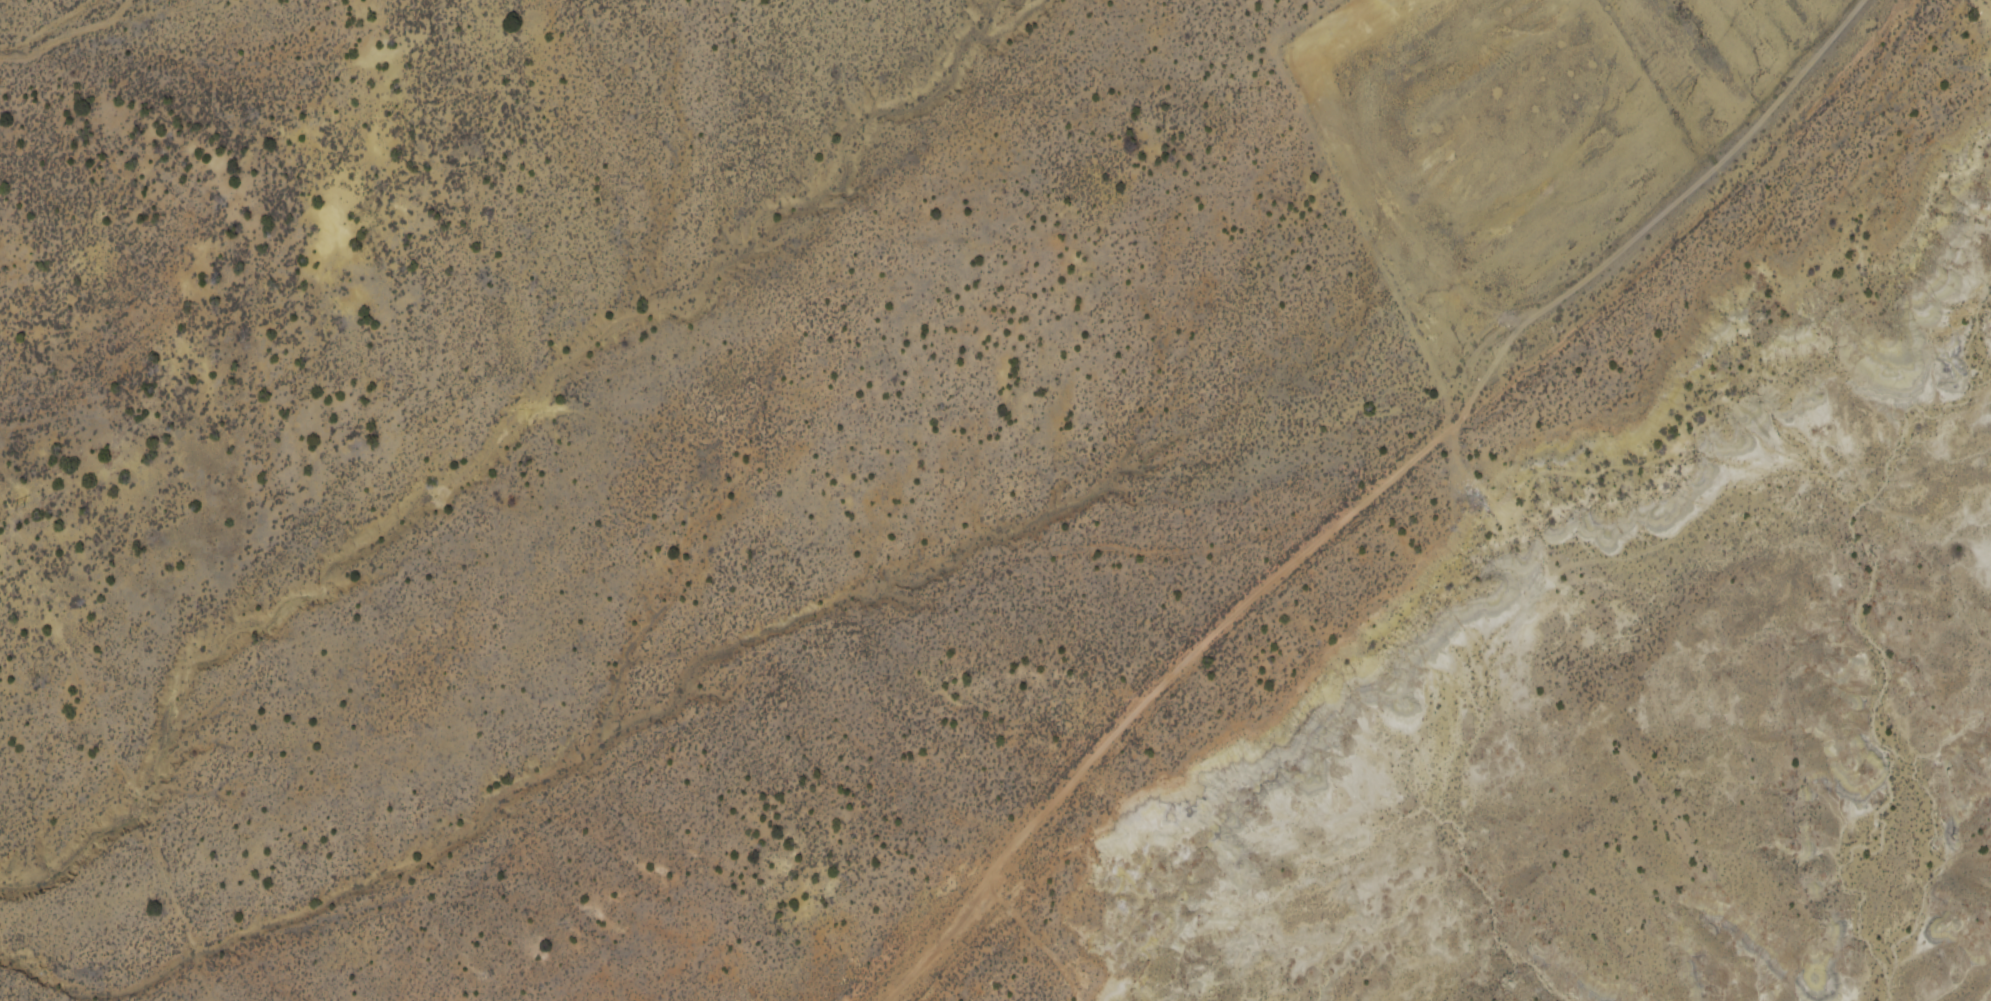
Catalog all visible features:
road: (1377, 497)
power tower: (18, 508)

